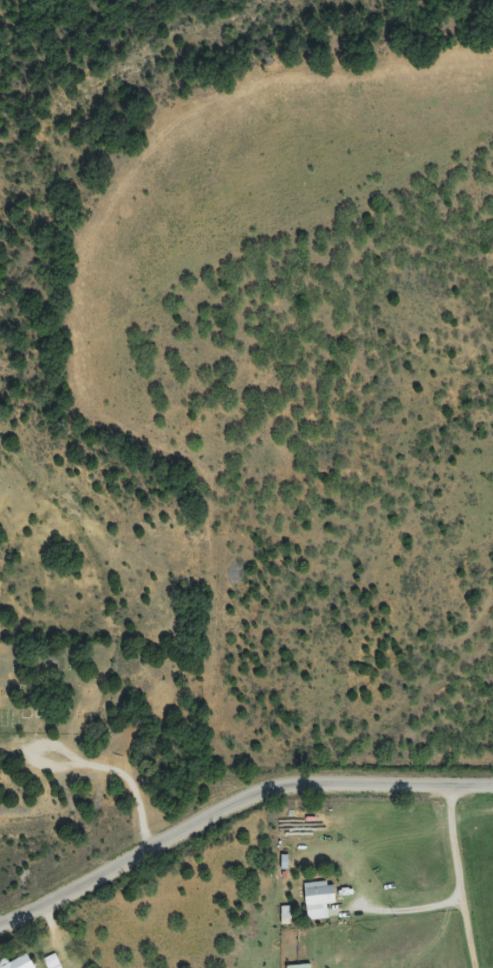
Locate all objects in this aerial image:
park: (52, 684)
road: (238, 800)
building: (320, 895)
building: (53, 961)
building: (19, 962)
building: (299, 966)

